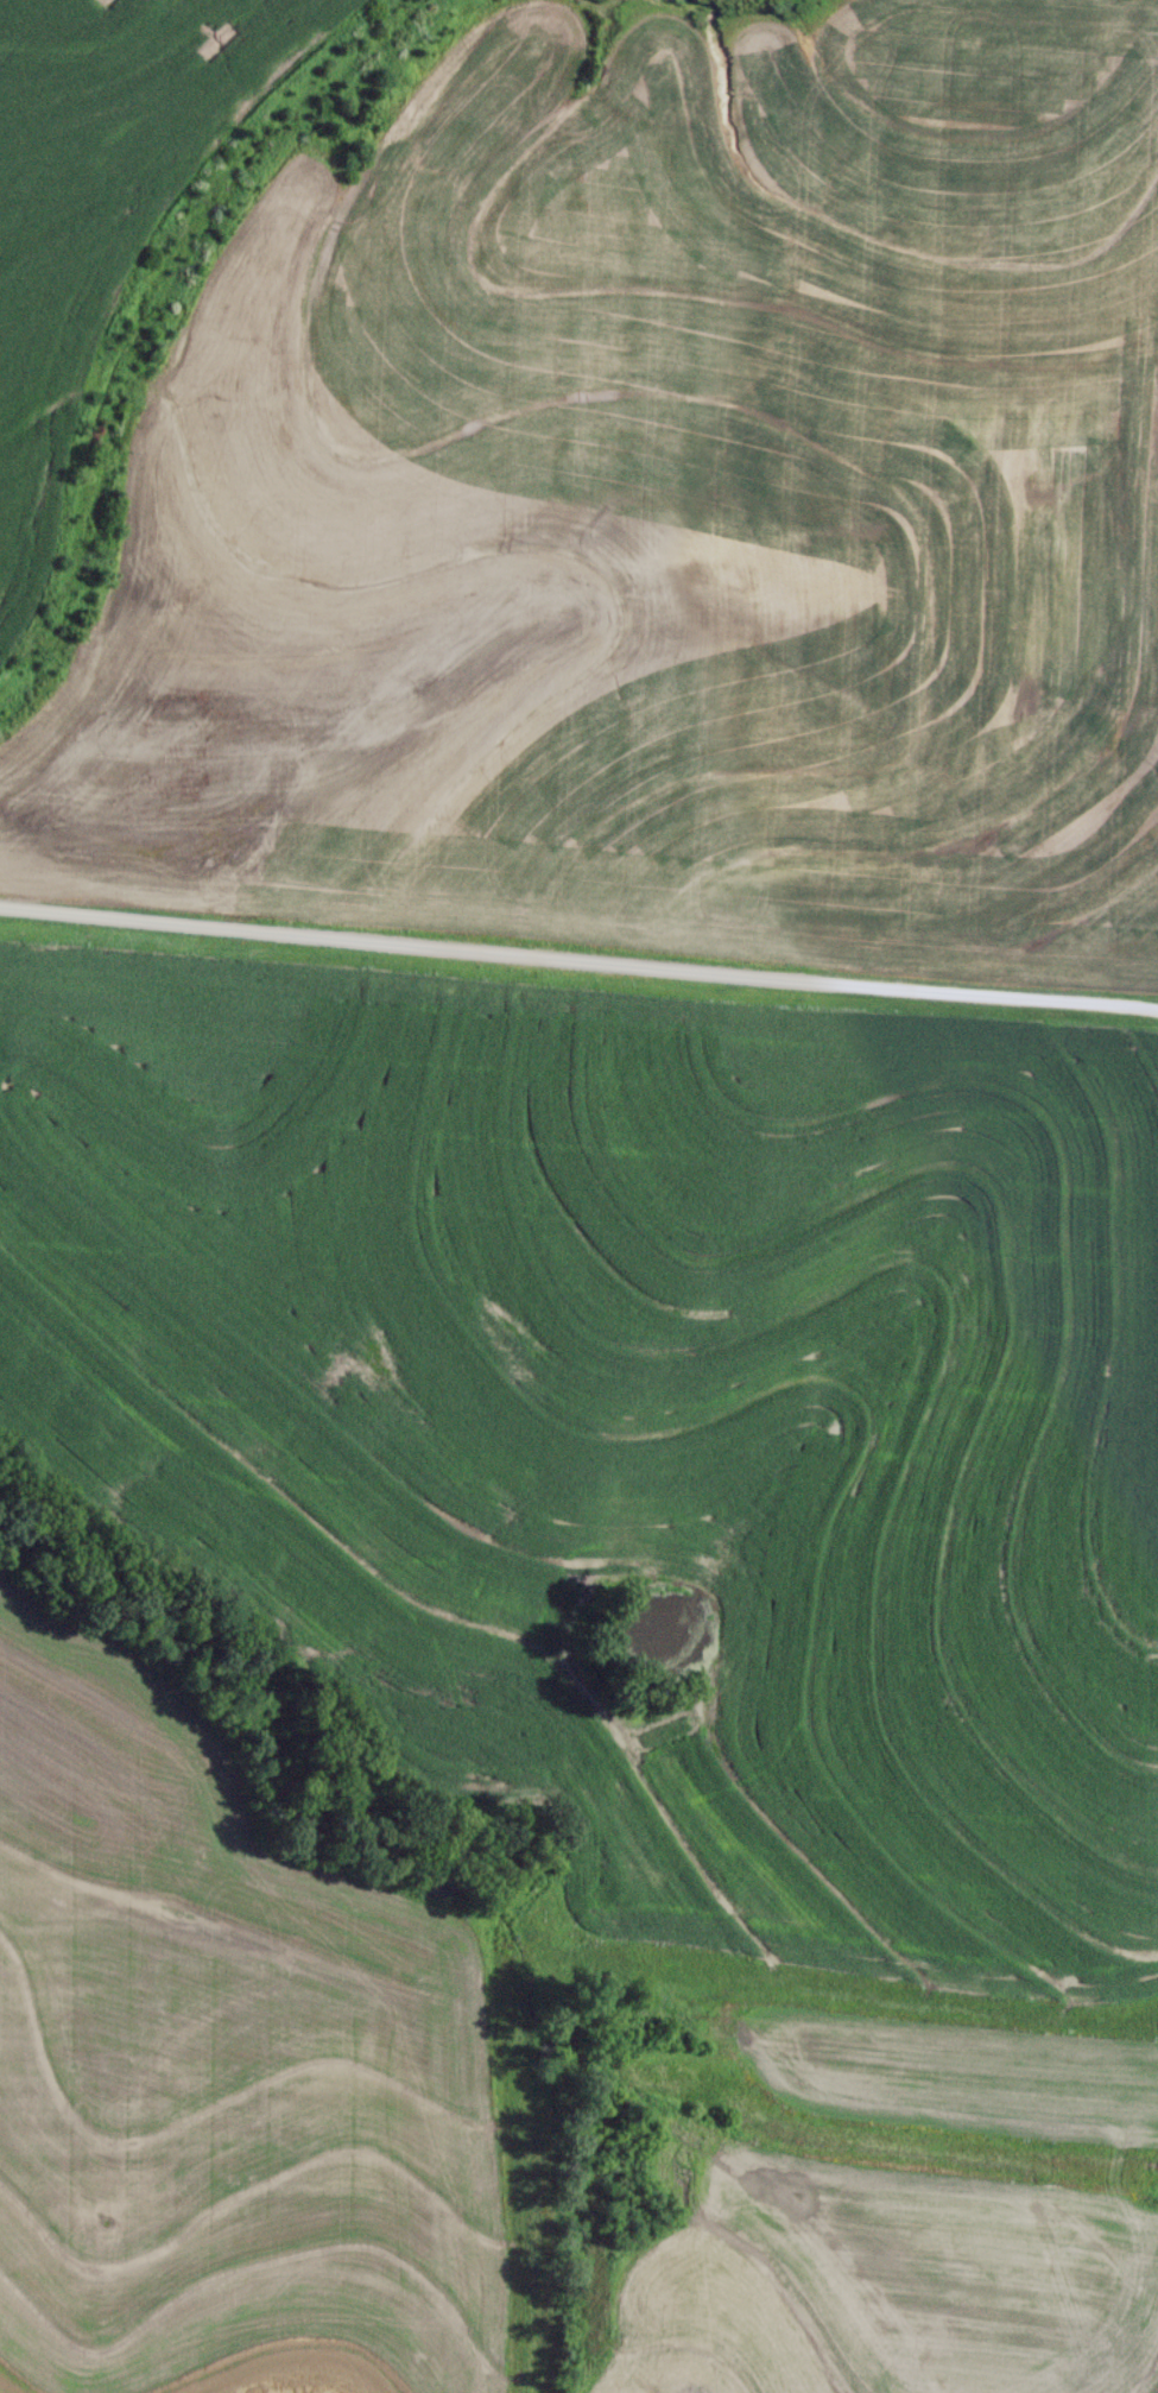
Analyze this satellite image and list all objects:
road: (578, 959)

